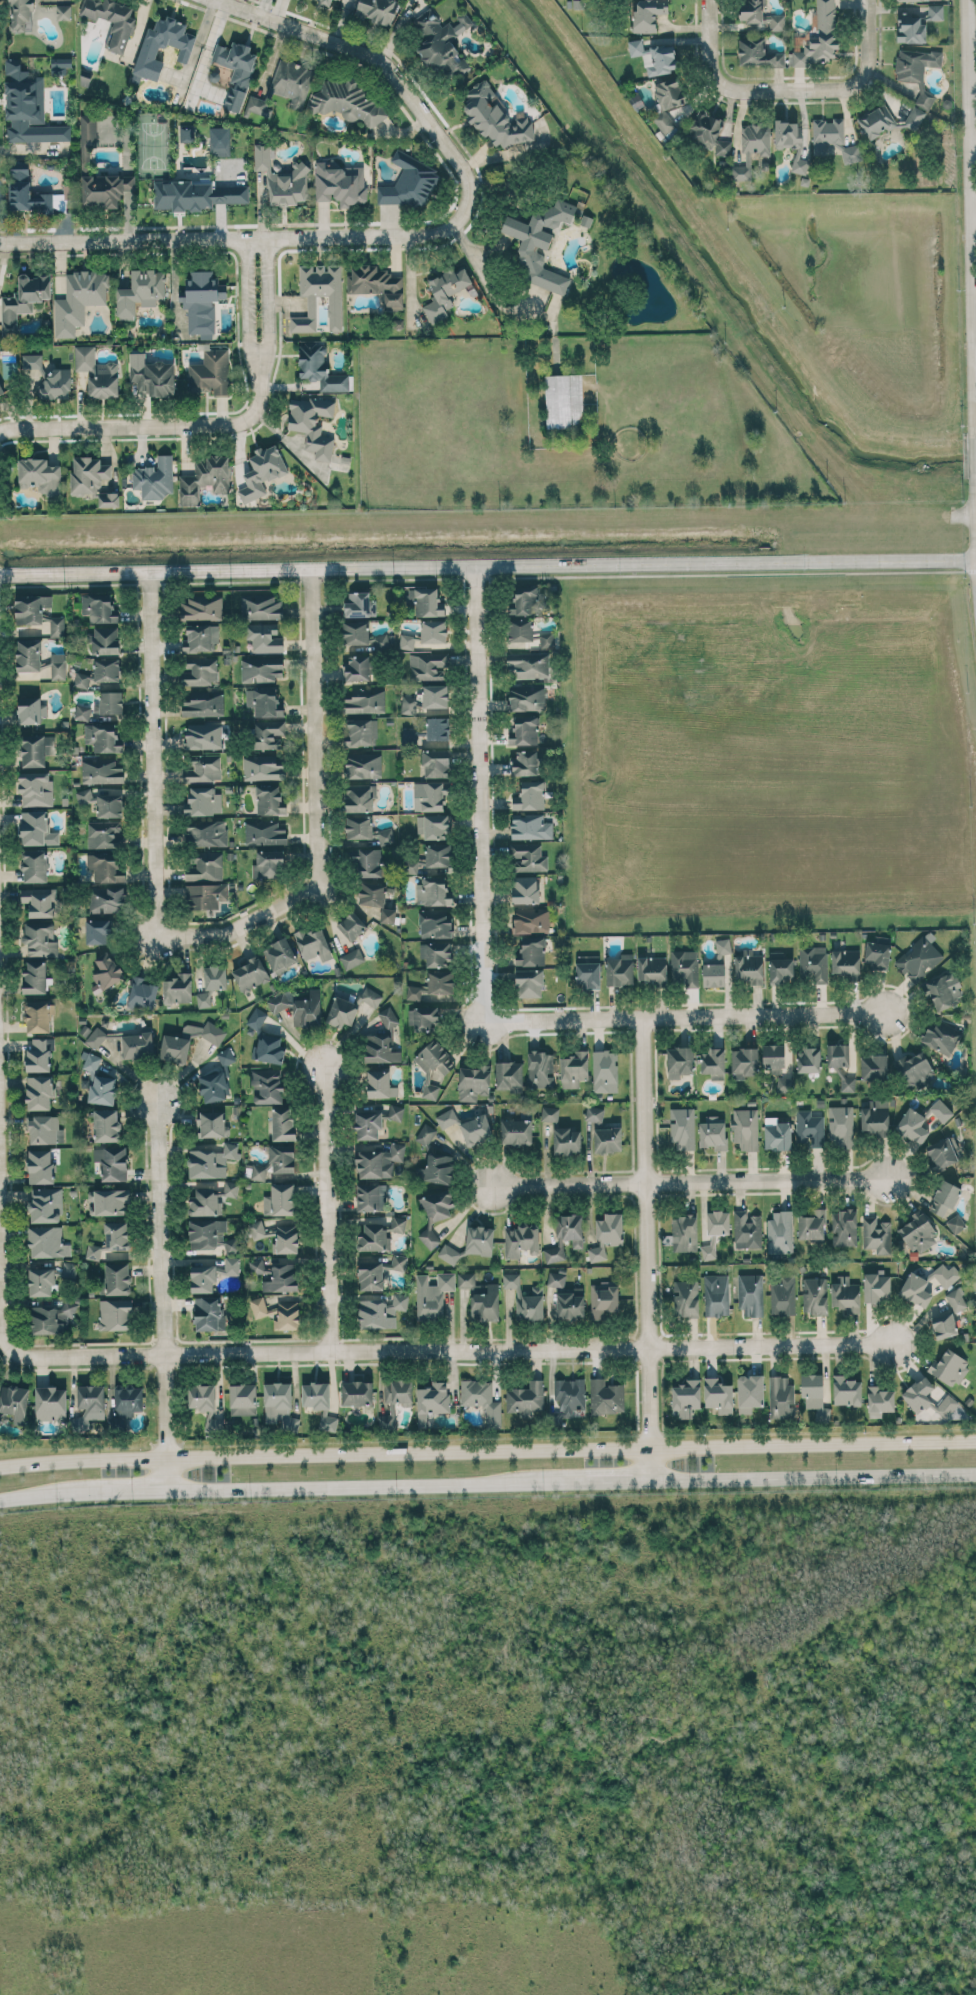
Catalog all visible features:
building: (909, 0)
building: (329, 1)
building: (349, 4)
building: (377, 10)
building: (935, 11)
building: (63, 12)
building: (20, 14)
building: (648, 14)
building: (760, 14)
building: (111, 20)
building: (910, 28)
building: (820, 37)
building: (441, 43)
building: (180, 47)
building: (757, 53)
road: (384, 57)
building: (654, 57)
building: (60, 65)
building: (916, 69)
building: (236, 70)
road: (863, 74)
road: (715, 79)
building: (292, 82)
building: (347, 101)
building: (668, 102)
building: (258, 105)
building: (29, 107)
building: (495, 118)
building: (914, 118)
building: (876, 121)
building: (87, 130)
building: (186, 133)
building: (708, 133)
building: (827, 133)
building: (791, 142)
building: (220, 147)
building: (750, 148)
road: (974, 148)
building: (851, 154)
building: (282, 177)
building: (408, 181)
building: (339, 184)
building: (105, 189)
building: (195, 194)
road: (974, 205)
road: (972, 211)
road: (237, 235)
building: (540, 243)
building: (377, 284)
building: (445, 291)
building: (140, 292)
building: (23, 299)
building: (78, 300)
road: (246, 300)
road: (269, 300)
building: (202, 302)
building: (334, 305)
building: (320, 368)
road: (975, 371)
building: (97, 372)
building: (210, 373)
building: (150, 376)
building: (48, 379)
building: (1, 391)
building: (563, 400)
road: (151, 421)
building: (312, 424)
road: (975, 449)
building: (261, 472)
building: (88, 474)
building: (39, 475)
building: (154, 477)
building: (204, 479)
building: (108, 499)
road: (975, 517)
road: (487, 561)
building: (425, 600)
building: (527, 600)
building: (360, 604)
building: (98, 607)
building: (202, 607)
building: (261, 607)
building: (31, 608)
building: (57, 626)
building: (434, 632)
building: (528, 633)
building: (363, 636)
building: (200, 637)
building: (265, 638)
building: (106, 639)
building: (406, 641)
building: (28, 655)
building: (529, 664)
building: (428, 665)
building: (58, 666)
building: (357, 667)
building: (107, 669)
building: (262, 669)
building: (200, 671)
building: (82, 679)
building: (435, 696)
building: (526, 697)
building: (263, 701)
building: (365, 701)
building: (109, 703)
building: (203, 704)
building: (409, 705)
building: (29, 710)
building: (82, 712)
building: (524, 730)
building: (361, 732)
building: (268, 733)
building: (203, 735)
building: (102, 737)
building: (32, 750)
road: (156, 750)
building: (526, 762)
building: (435, 763)
road: (487, 763)
building: (363, 764)
building: (203, 767)
building: (262, 767)
building: (101, 770)
building: (35, 787)
building: (430, 795)
building: (85, 796)
building: (529, 796)
building: (359, 797)
building: (269, 800)
building: (203, 801)
building: (110, 805)
road: (323, 809)
building: (433, 825)
building: (530, 826)
building: (359, 827)
building: (36, 829)
building: (265, 832)
building: (206, 833)
building: (104, 834)
building: (384, 835)
building: (438, 854)
building: (528, 856)
building: (368, 862)
building: (268, 864)
building: (413, 864)
building: (34, 865)
building: (205, 866)
building: (104, 867)
building: (525, 889)
building: (432, 891)
building: (372, 894)
building: (205, 895)
building: (107, 899)
building: (39, 901)
building: (388, 915)
building: (531, 920)
building: (435, 923)
building: (352, 925)
building: (97, 930)
building: (40, 938)
building: (313, 944)
building: (723, 946)
building: (531, 951)
building: (436, 953)
building: (280, 954)
building: (877, 955)
building: (919, 957)
building: (352, 958)
building: (813, 963)
building: (845, 963)
building: (684, 966)
building: (748, 966)
building: (651, 969)
building: (781, 969)
building: (588, 970)
building: (620, 970)
building: (106, 972)
building: (250, 973)
building: (713, 974)
building: (35, 976)
building: (215, 977)
building: (441, 981)
building: (529, 983)
building: (178, 988)
building: (944, 990)
building: (413, 992)
building: (142, 993)
building: (371, 996)
building: (203, 999)
building: (299, 1006)
building: (342, 1012)
building: (37, 1016)
building: (423, 1018)
road: (659, 1024)
building: (205, 1032)
building: (941, 1036)
building: (265, 1040)
building: (383, 1040)
building: (137, 1045)
building: (174, 1048)
building: (39, 1054)
building: (838, 1055)
building: (225, 1056)
building: (773, 1058)
building: (808, 1059)
building: (679, 1061)
building: (90, 1062)
building: (713, 1062)
building: (744, 1062)
building: (434, 1065)
building: (874, 1067)
building: (540, 1069)
building: (574, 1069)
building: (915, 1069)
building: (604, 1071)
building: (508, 1075)
building: (474, 1082)
building: (380, 1084)
building: (847, 1084)
building: (212, 1086)
building: (267, 1086)
building: (785, 1087)
building: (103, 1089)
building: (39, 1092)
building: (940, 1110)
building: (396, 1112)
building: (549, 1113)
building: (594, 1113)
building: (876, 1117)
building: (446, 1118)
building: (213, 1123)
building: (283, 1123)
building: (106, 1125)
building: (368, 1125)
building: (912, 1125)
building: (840, 1126)
building: (682, 1128)
building: (745, 1128)
building: (809, 1128)
building: (44, 1129)
building: (476, 1129)
building: (516, 1131)
building: (713, 1132)
building: (777, 1134)
building: (607, 1139)
building: (567, 1140)
building: (210, 1159)
building: (435, 1159)
building: (379, 1161)
building: (112, 1162)
building: (275, 1162)
building: (40, 1166)
road: (695, 1185)
building: (230, 1188)
building: (371, 1197)
building: (944, 1197)
building: (280, 1199)
building: (108, 1201)
building: (204, 1202)
building: (46, 1204)
road: (331, 1208)
building: (435, 1212)
building: (398, 1223)
building: (955, 1223)
building: (812, 1225)
building: (844, 1228)
building: (746, 1229)
building: (713, 1231)
building: (780, 1232)
building: (684, 1233)
building: (918, 1233)
building: (876, 1234)
building: (117, 1235)
building: (210, 1235)
building: (606, 1235)
road: (2, 1236)
building: (565, 1236)
building: (373, 1238)
building: (285, 1239)
building: (521, 1239)
building: (479, 1240)
building: (47, 1242)
building: (94, 1251)
road: (648, 1252)
building: (450, 1253)
building: (396, 1262)
building: (231, 1265)
building: (256, 1266)
building: (68, 1269)
building: (947, 1274)
building: (371, 1275)
building: (203, 1277)
building: (117, 1278)
building: (282, 1278)
building: (556, 1278)
building: (41, 1281)
building: (876, 1286)
building: (917, 1290)
building: (750, 1294)
building: (846, 1294)
road: (166, 1295)
building: (432, 1295)
building: (716, 1295)
building: (782, 1295)
building: (814, 1295)
building: (481, 1297)
building: (685, 1297)
building: (525, 1298)
building: (603, 1298)
building: (956, 1298)
building: (570, 1305)
building: (258, 1306)
building: (382, 1311)
building: (209, 1313)
building: (114, 1314)
building: (285, 1315)
building: (51, 1318)
building: (944, 1325)
road: (455, 1350)
building: (949, 1367)
building: (812, 1390)
building: (846, 1390)
building: (750, 1392)
building: (357, 1393)
building: (920, 1393)
building: (315, 1395)
building: (570, 1395)
building: (718, 1395)
building: (201, 1396)
building: (606, 1397)
building: (686, 1397)
building: (780, 1397)
building: (525, 1398)
building: (243, 1399)
building: (482, 1399)
building: (129, 1400)
building: (880, 1400)
building: (395, 1401)
building: (431, 1401)
building: (14, 1402)
building: (51, 1403)
building: (88, 1403)
building: (946, 1405)
building: (279, 1406)
building: (214, 1424)
road: (487, 1450)
road: (487, 1481)

